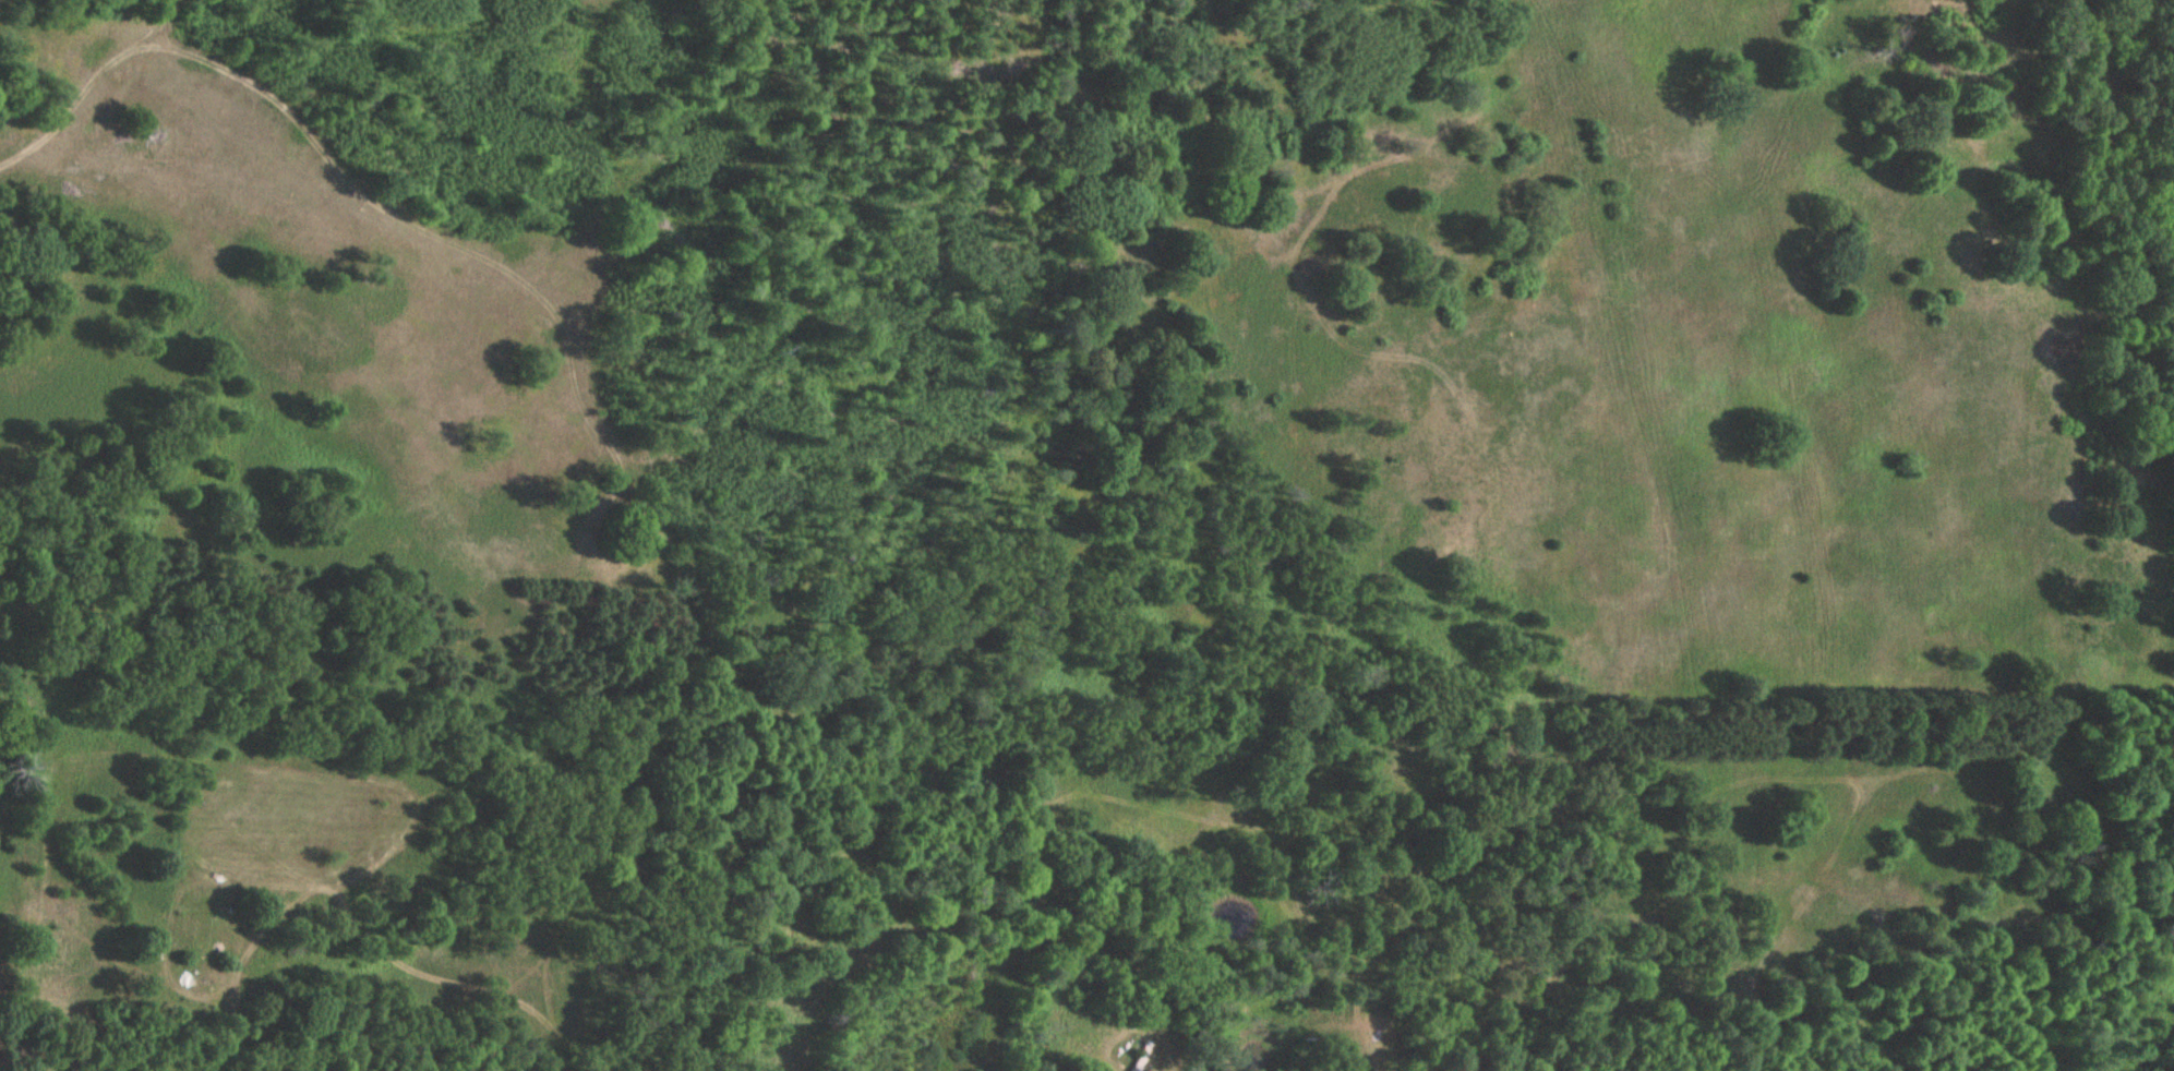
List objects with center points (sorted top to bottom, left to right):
road: (70, 103)
building: (1142, 1057)

